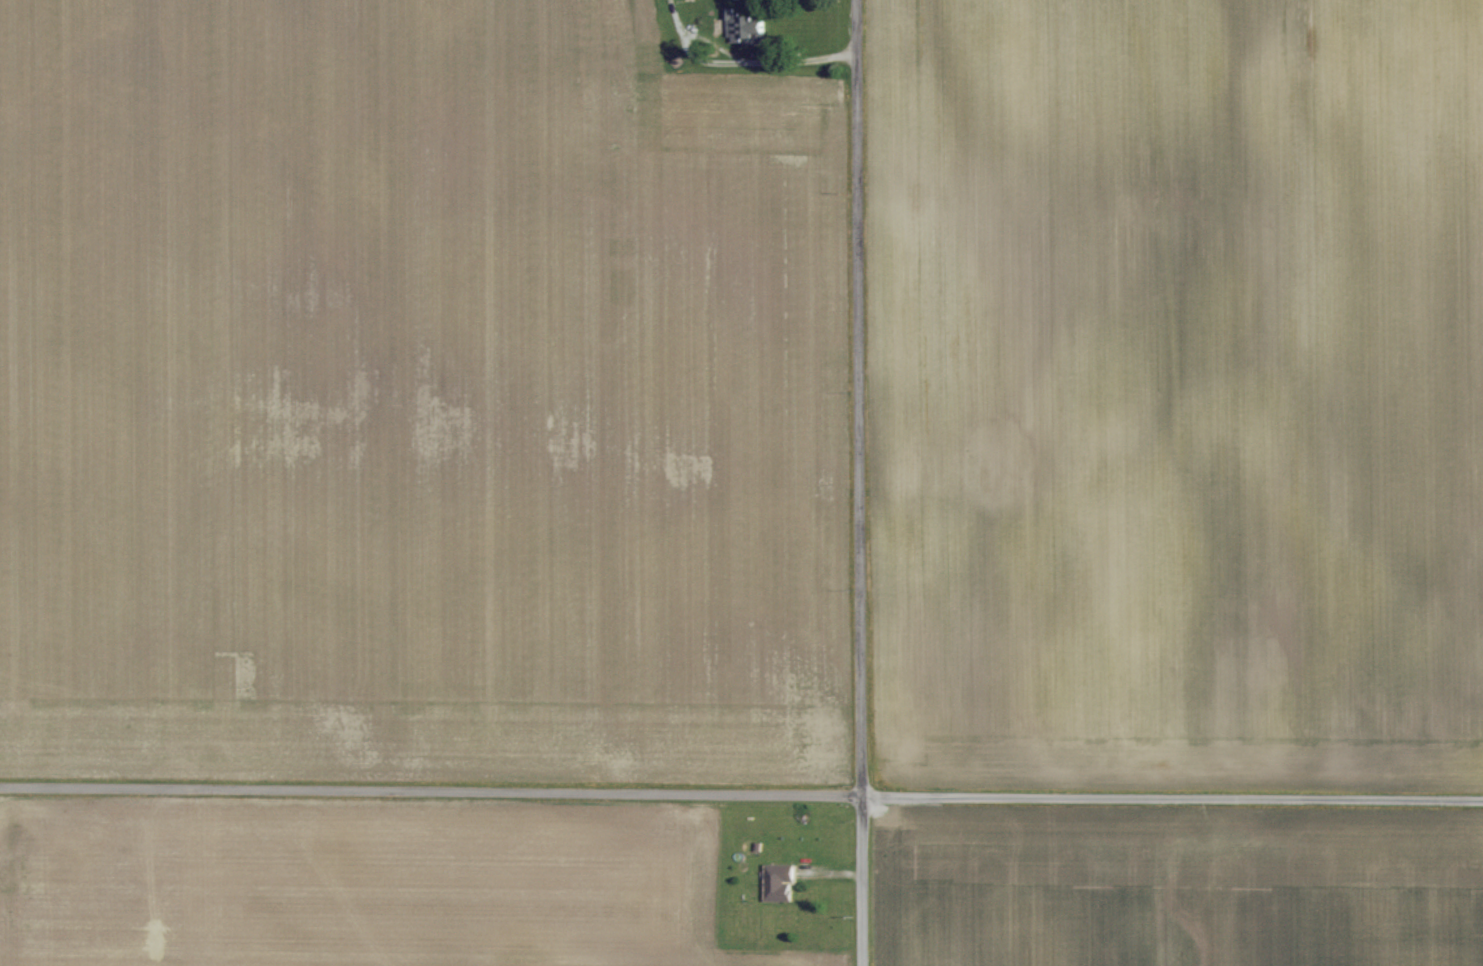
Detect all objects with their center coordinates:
road: (863, 482)
road: (741, 791)
building: (780, 883)

